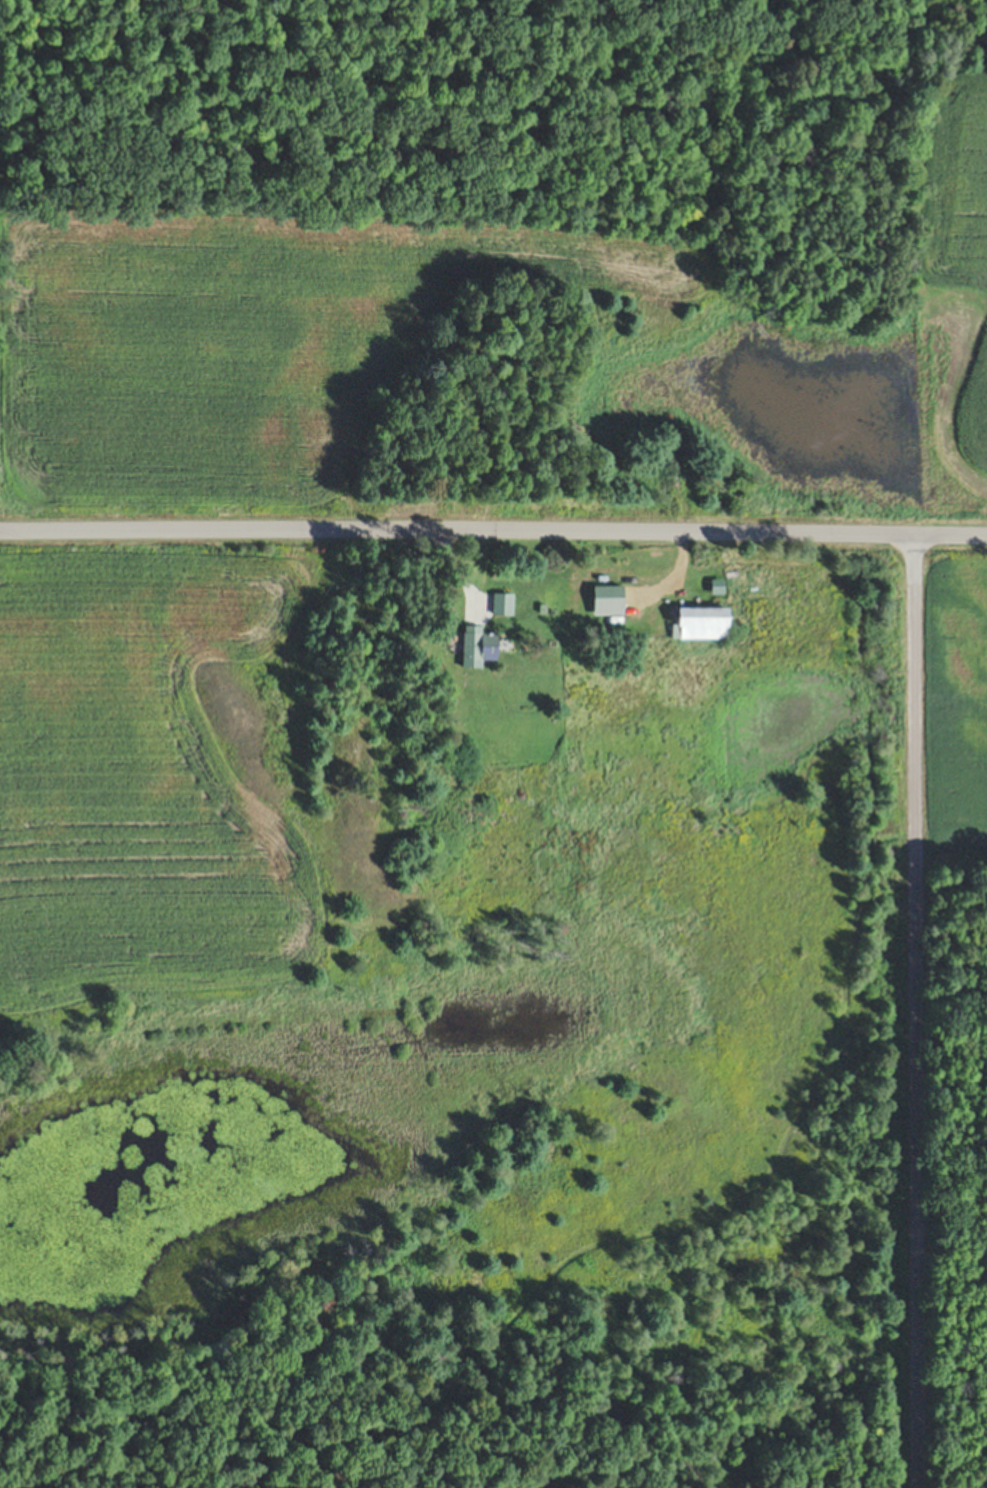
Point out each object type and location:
road: (493, 538)
building: (504, 605)
building: (704, 624)
building: (480, 647)
road: (904, 1016)

